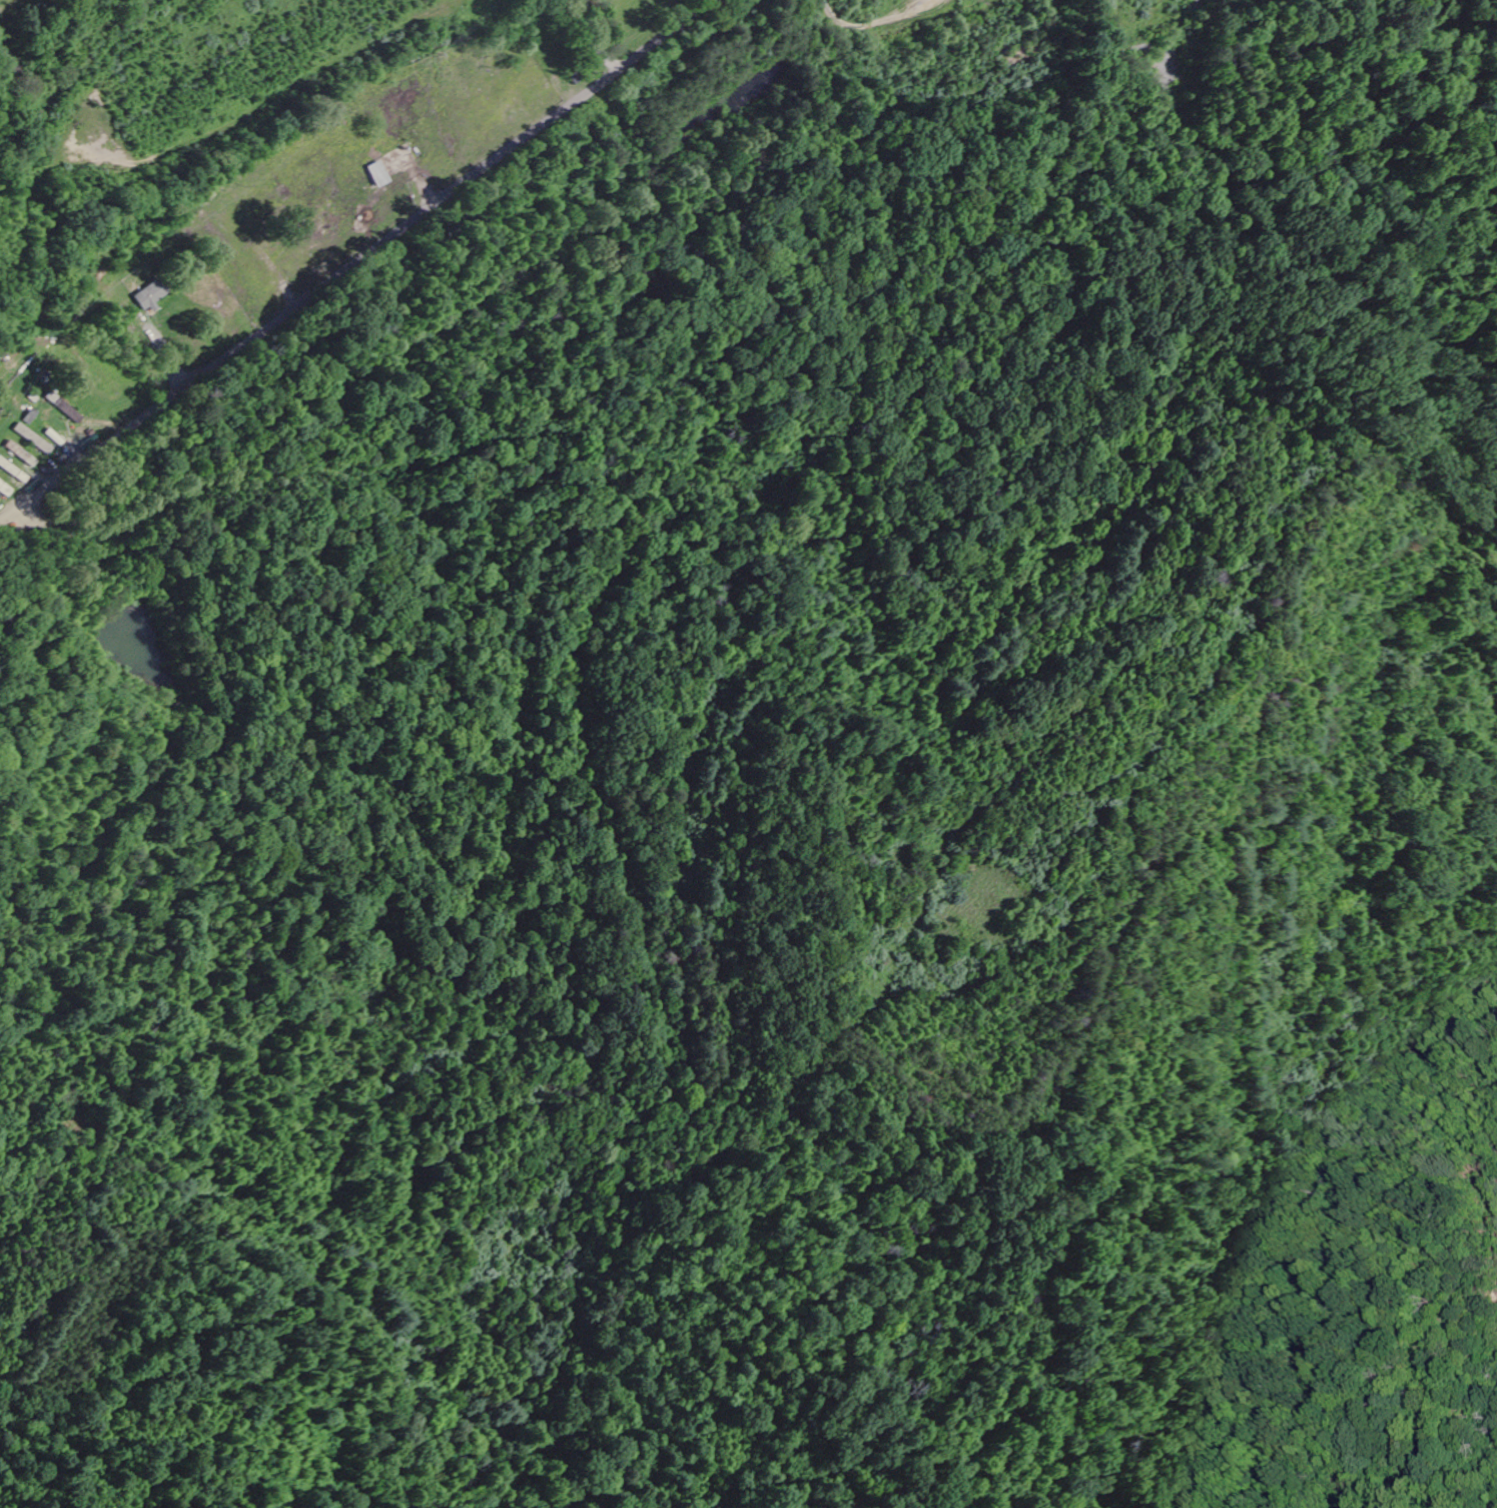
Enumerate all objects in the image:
road: (586, 42)
road: (363, 257)
building: (154, 295)
building: (64, 407)
building: (30, 417)
building: (33, 439)
building: (21, 454)
building: (13, 471)
building: (5, 489)
road: (7, 518)

